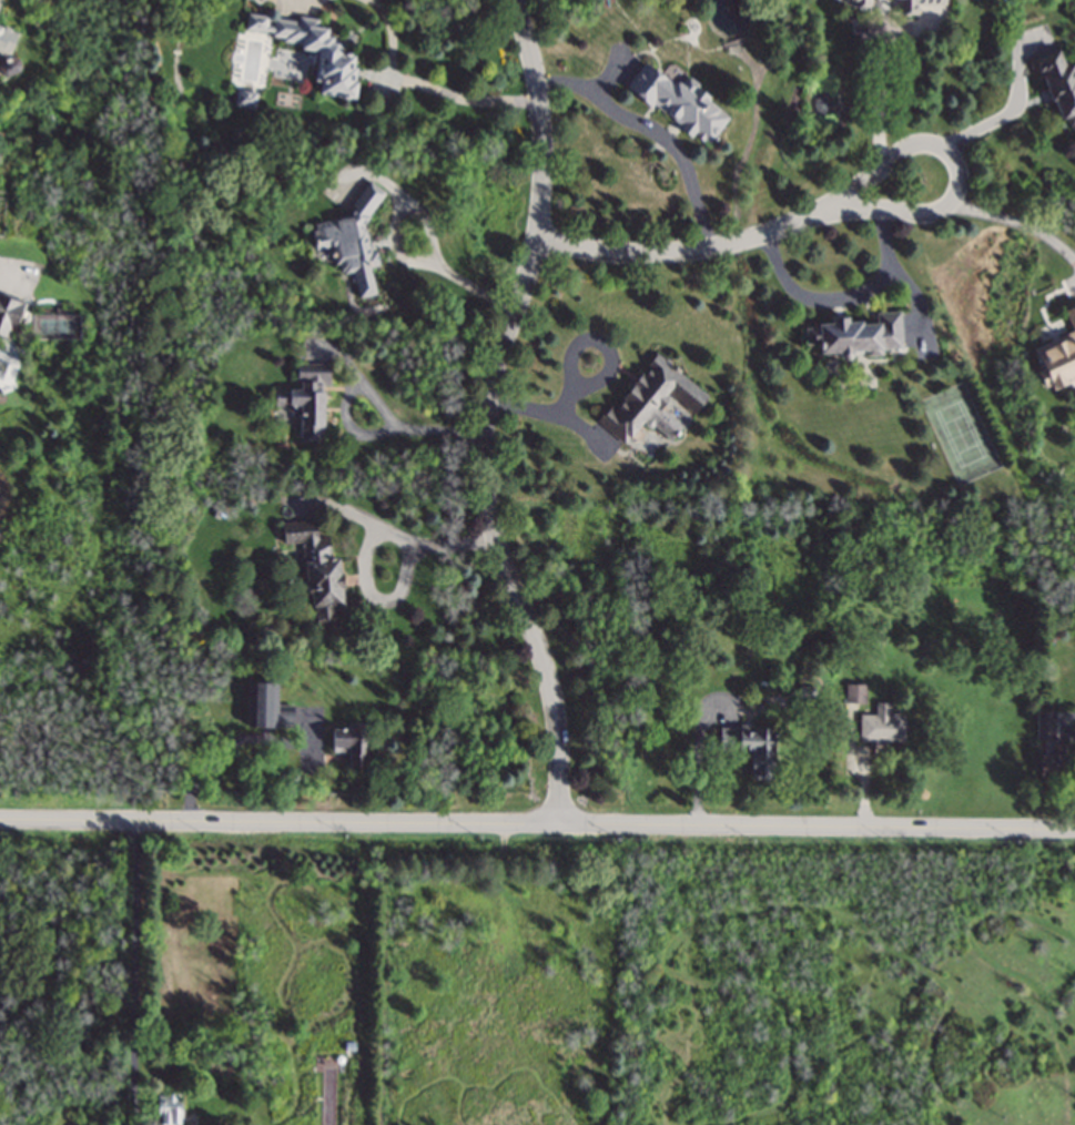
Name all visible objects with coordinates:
building: (860, 2)
building: (915, 4)
building: (6, 40)
building: (332, 60)
building: (8, 65)
building: (1057, 81)
building: (244, 98)
road: (460, 98)
road: (878, 100)
building: (678, 102)
road: (1015, 109)
road: (652, 133)
road: (956, 172)
road: (1018, 224)
building: (352, 237)
road: (679, 254)
road: (14, 273)
road: (458, 277)
road: (842, 298)
building: (8, 314)
park: (54, 326)
building: (855, 334)
building: (1058, 355)
road: (610, 357)
building: (305, 396)
building: (651, 401)
road: (488, 411)
road: (548, 416)
road: (367, 436)
park: (959, 436)
road: (399, 558)
building: (315, 570)
building: (854, 692)
building: (265, 706)
building: (1045, 723)
building: (881, 724)
building: (349, 742)
road: (230, 746)
building: (751, 746)
building: (1054, 761)
road: (699, 763)
road: (537, 820)
road: (133, 971)
building: (348, 1045)
building: (80, 1047)
building: (168, 1107)

